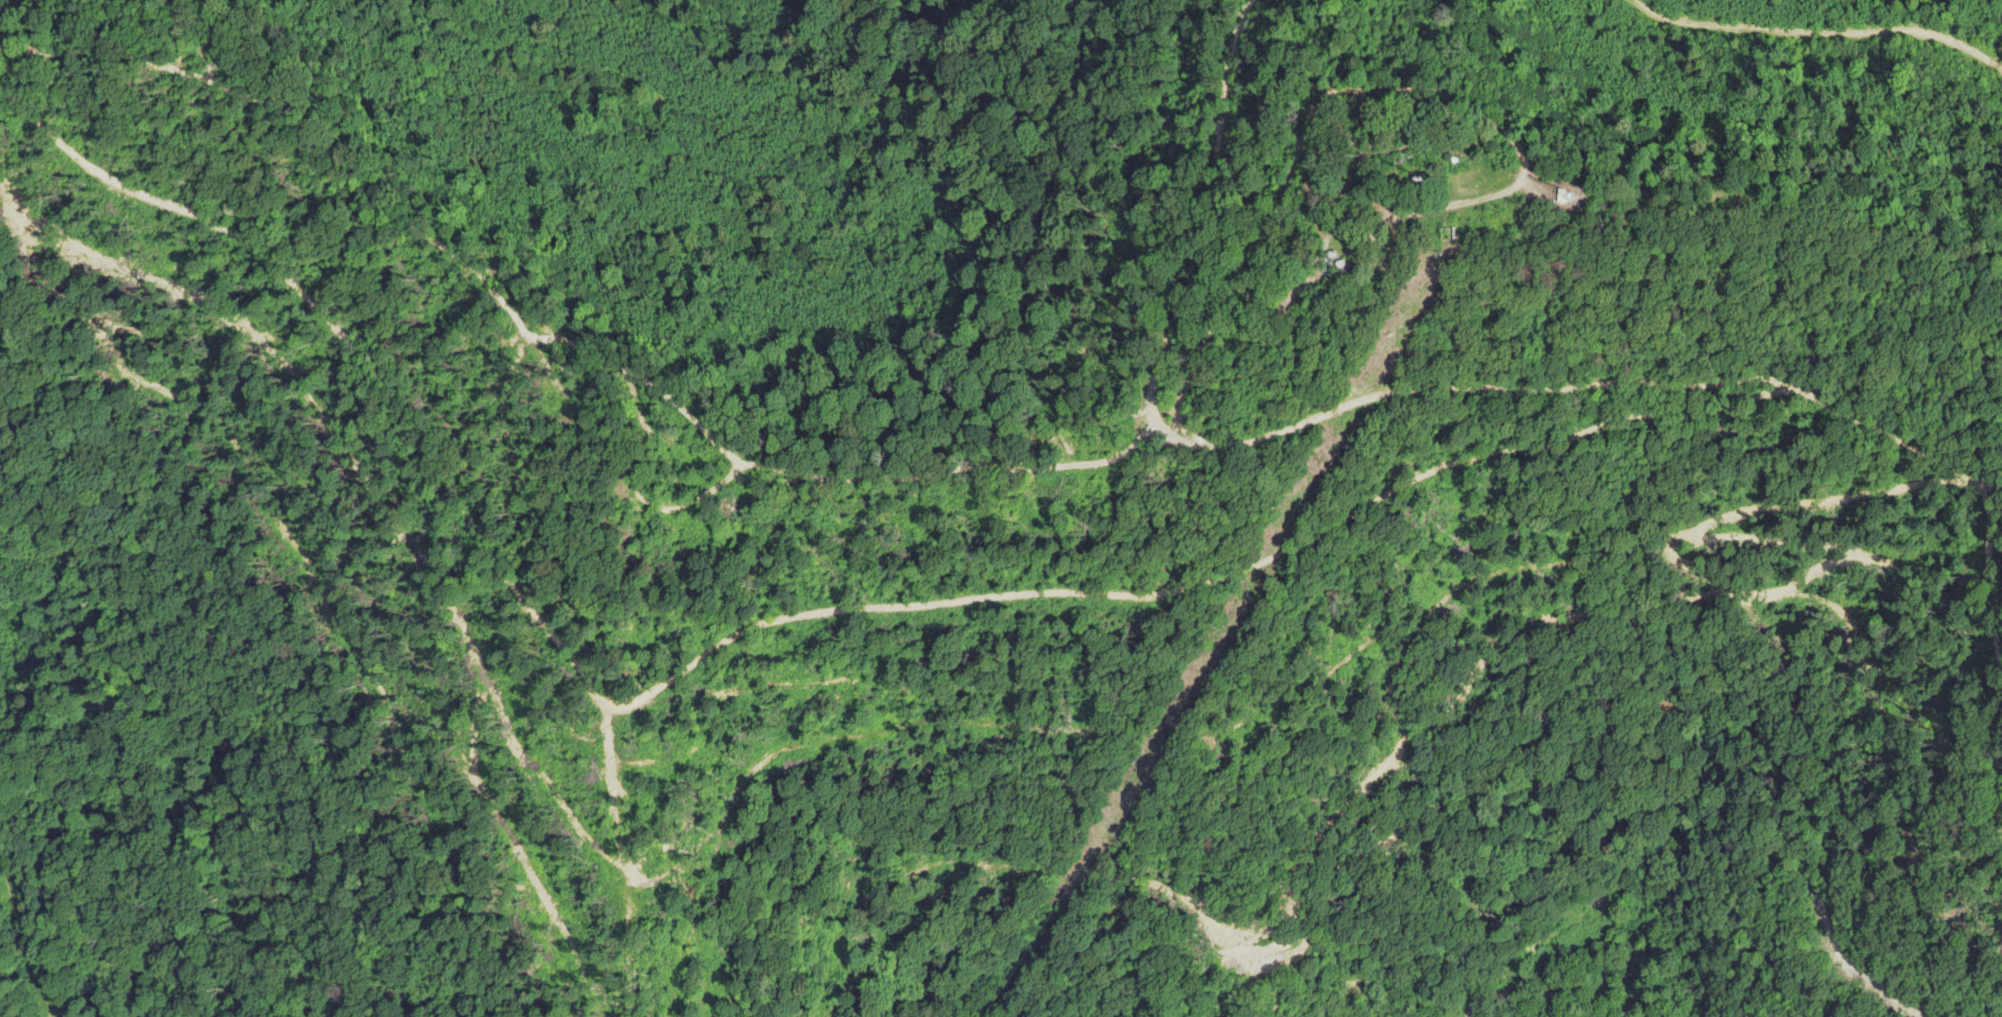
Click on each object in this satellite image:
building: (1558, 198)
building: (1330, 264)
road: (1323, 390)
road: (18, 951)

